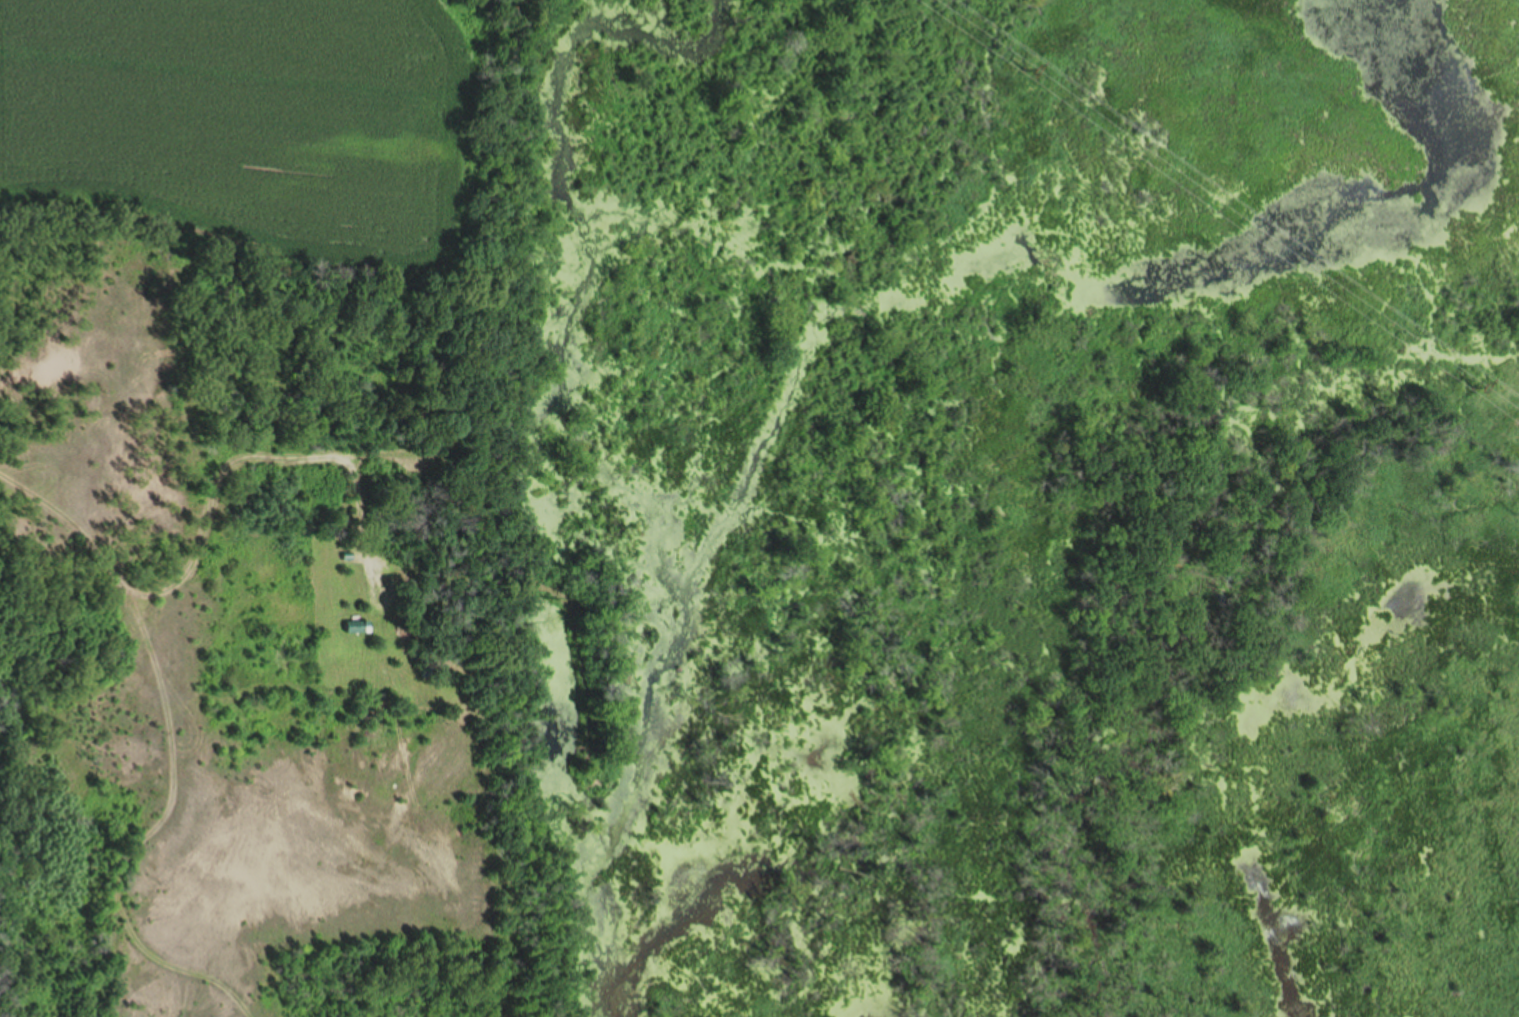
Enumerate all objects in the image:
power tower: (1024, 69)
power tower: (1472, 386)
road: (308, 456)
road: (171, 752)

